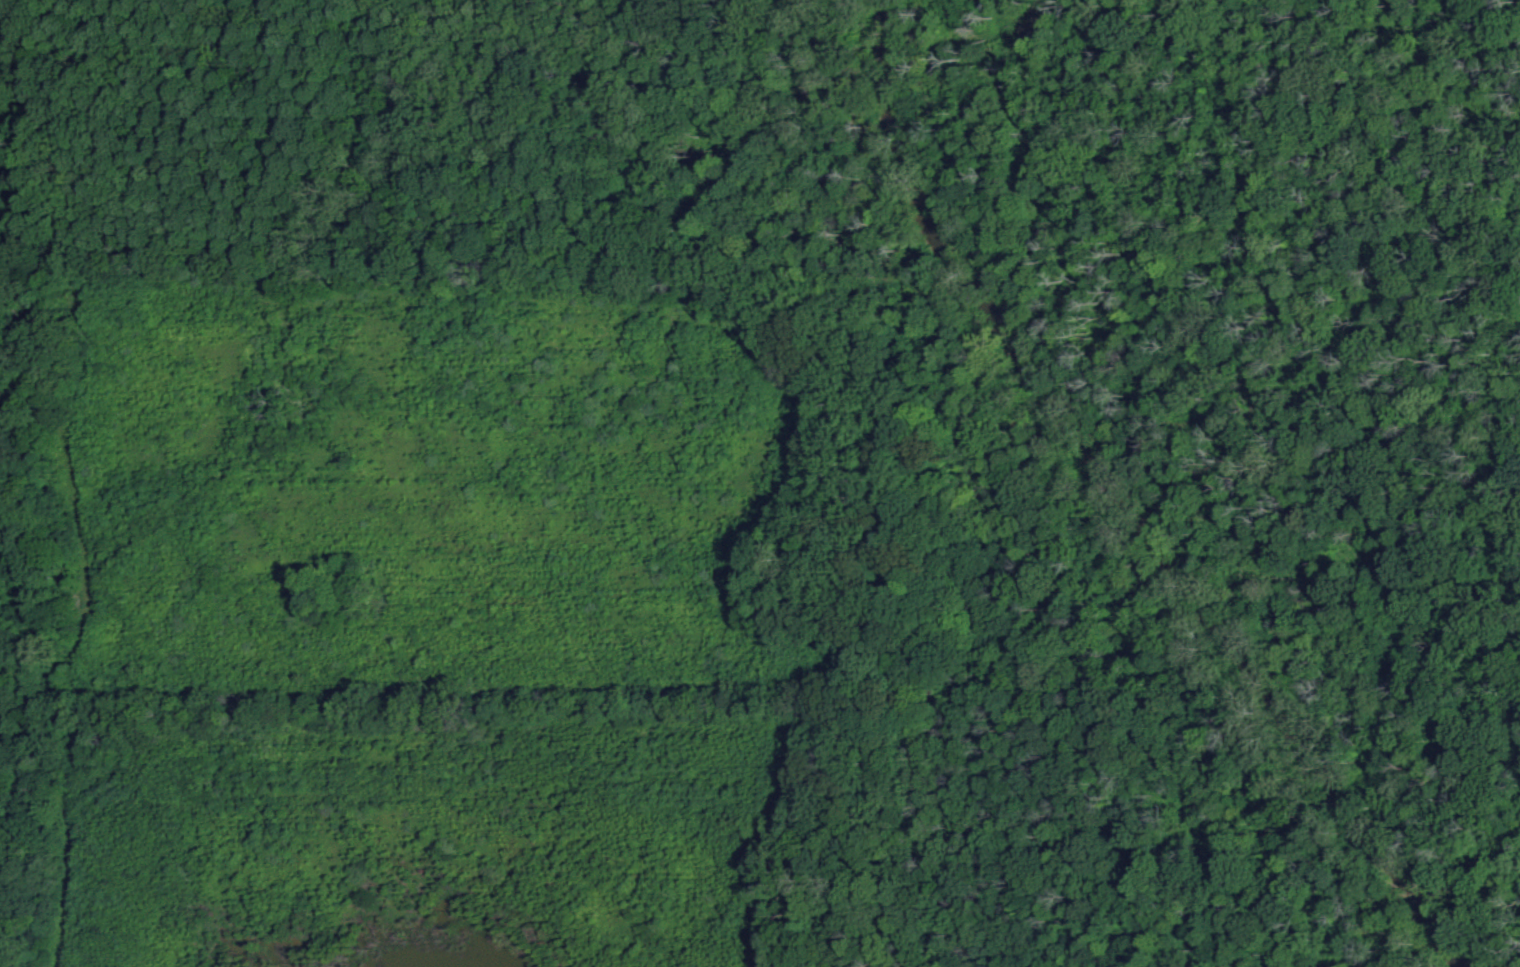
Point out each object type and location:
park: (760, 483)

